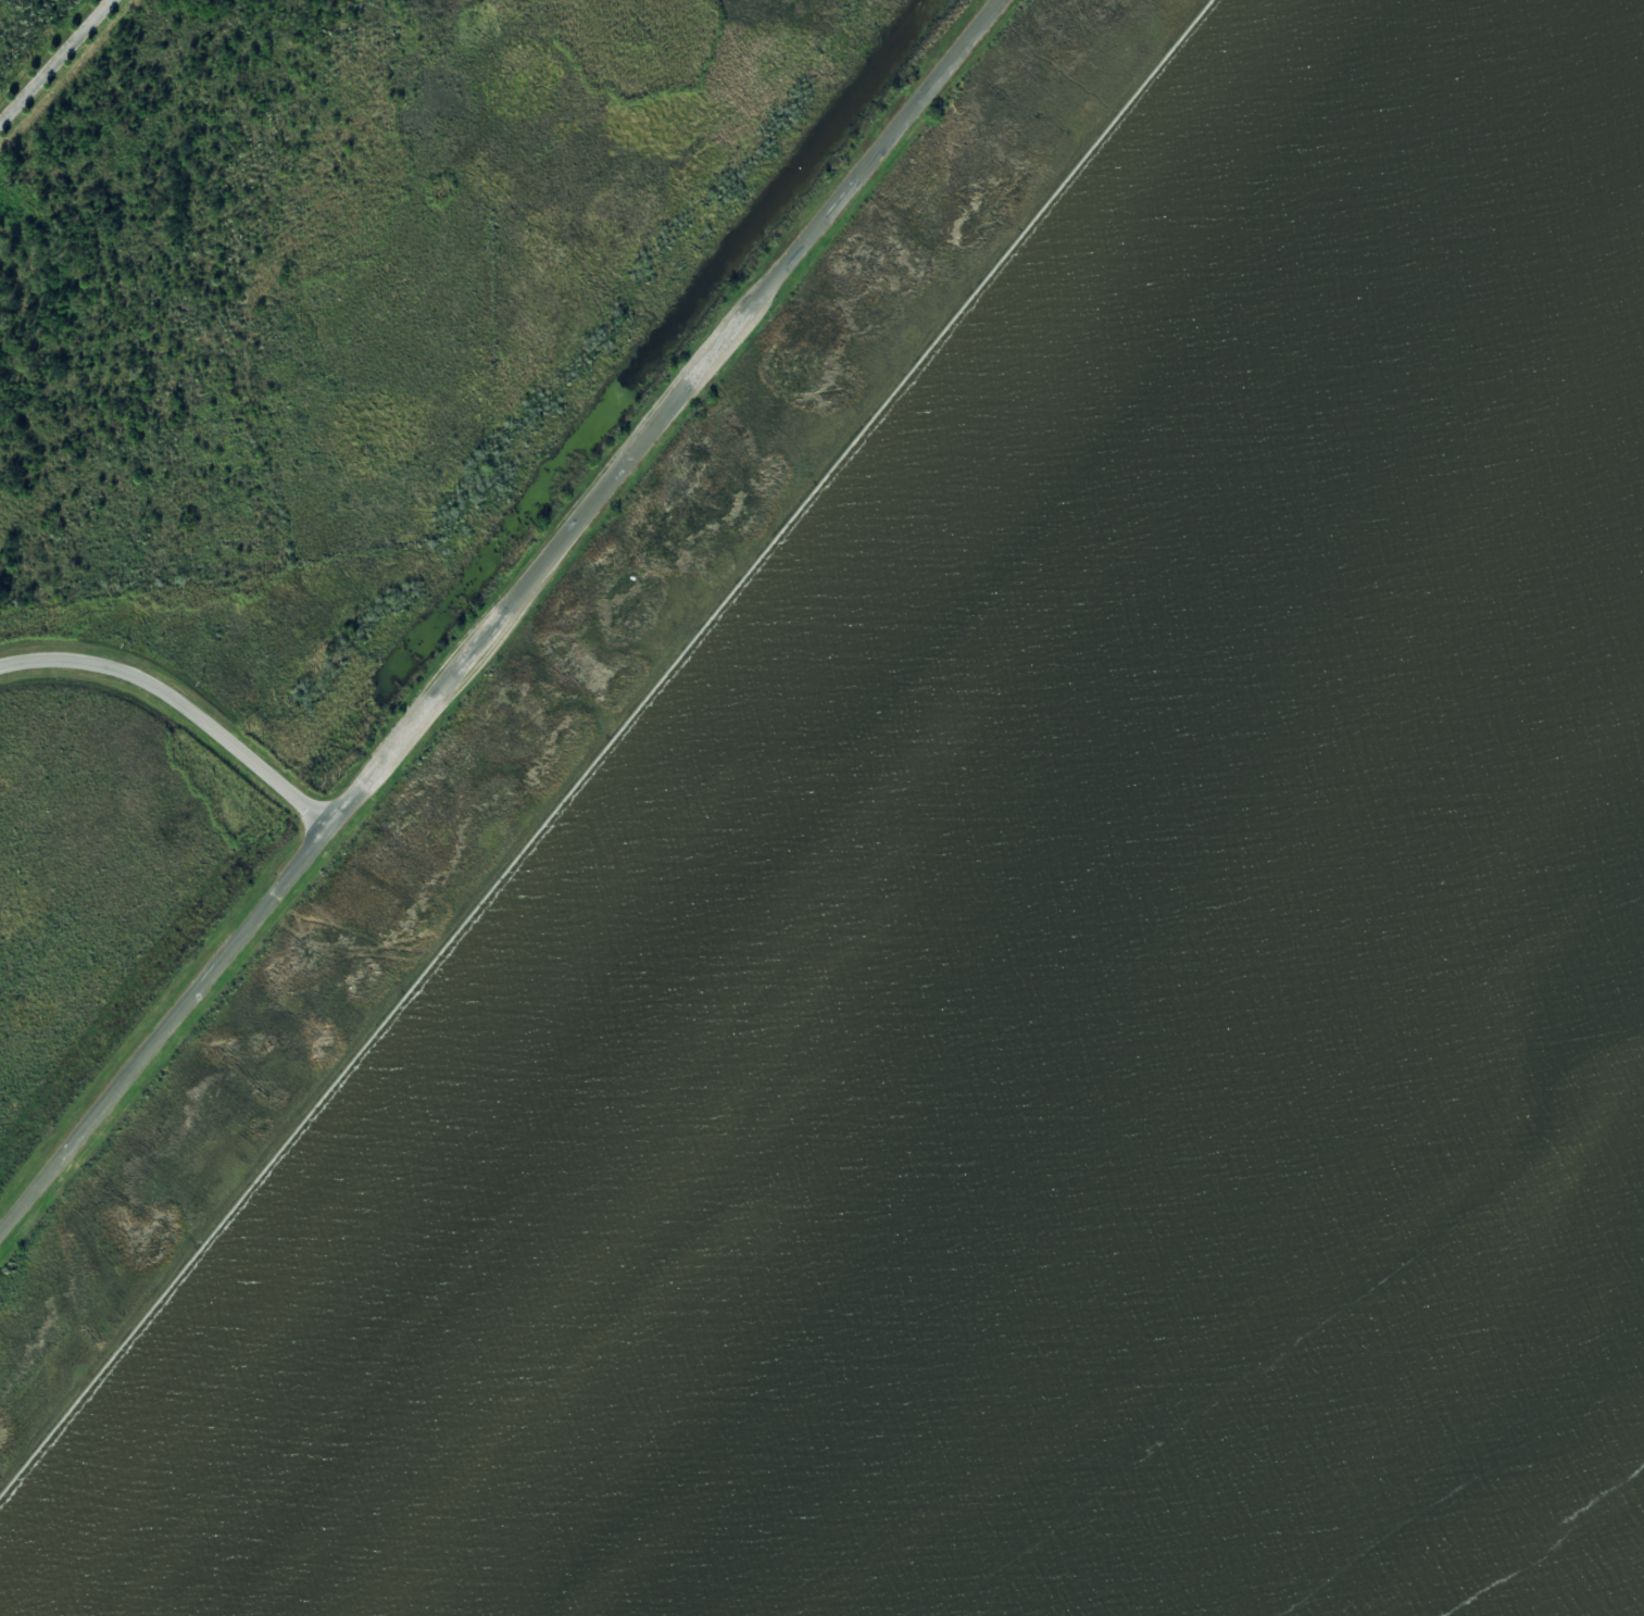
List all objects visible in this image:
road: (500, 618)
road: (181, 704)

